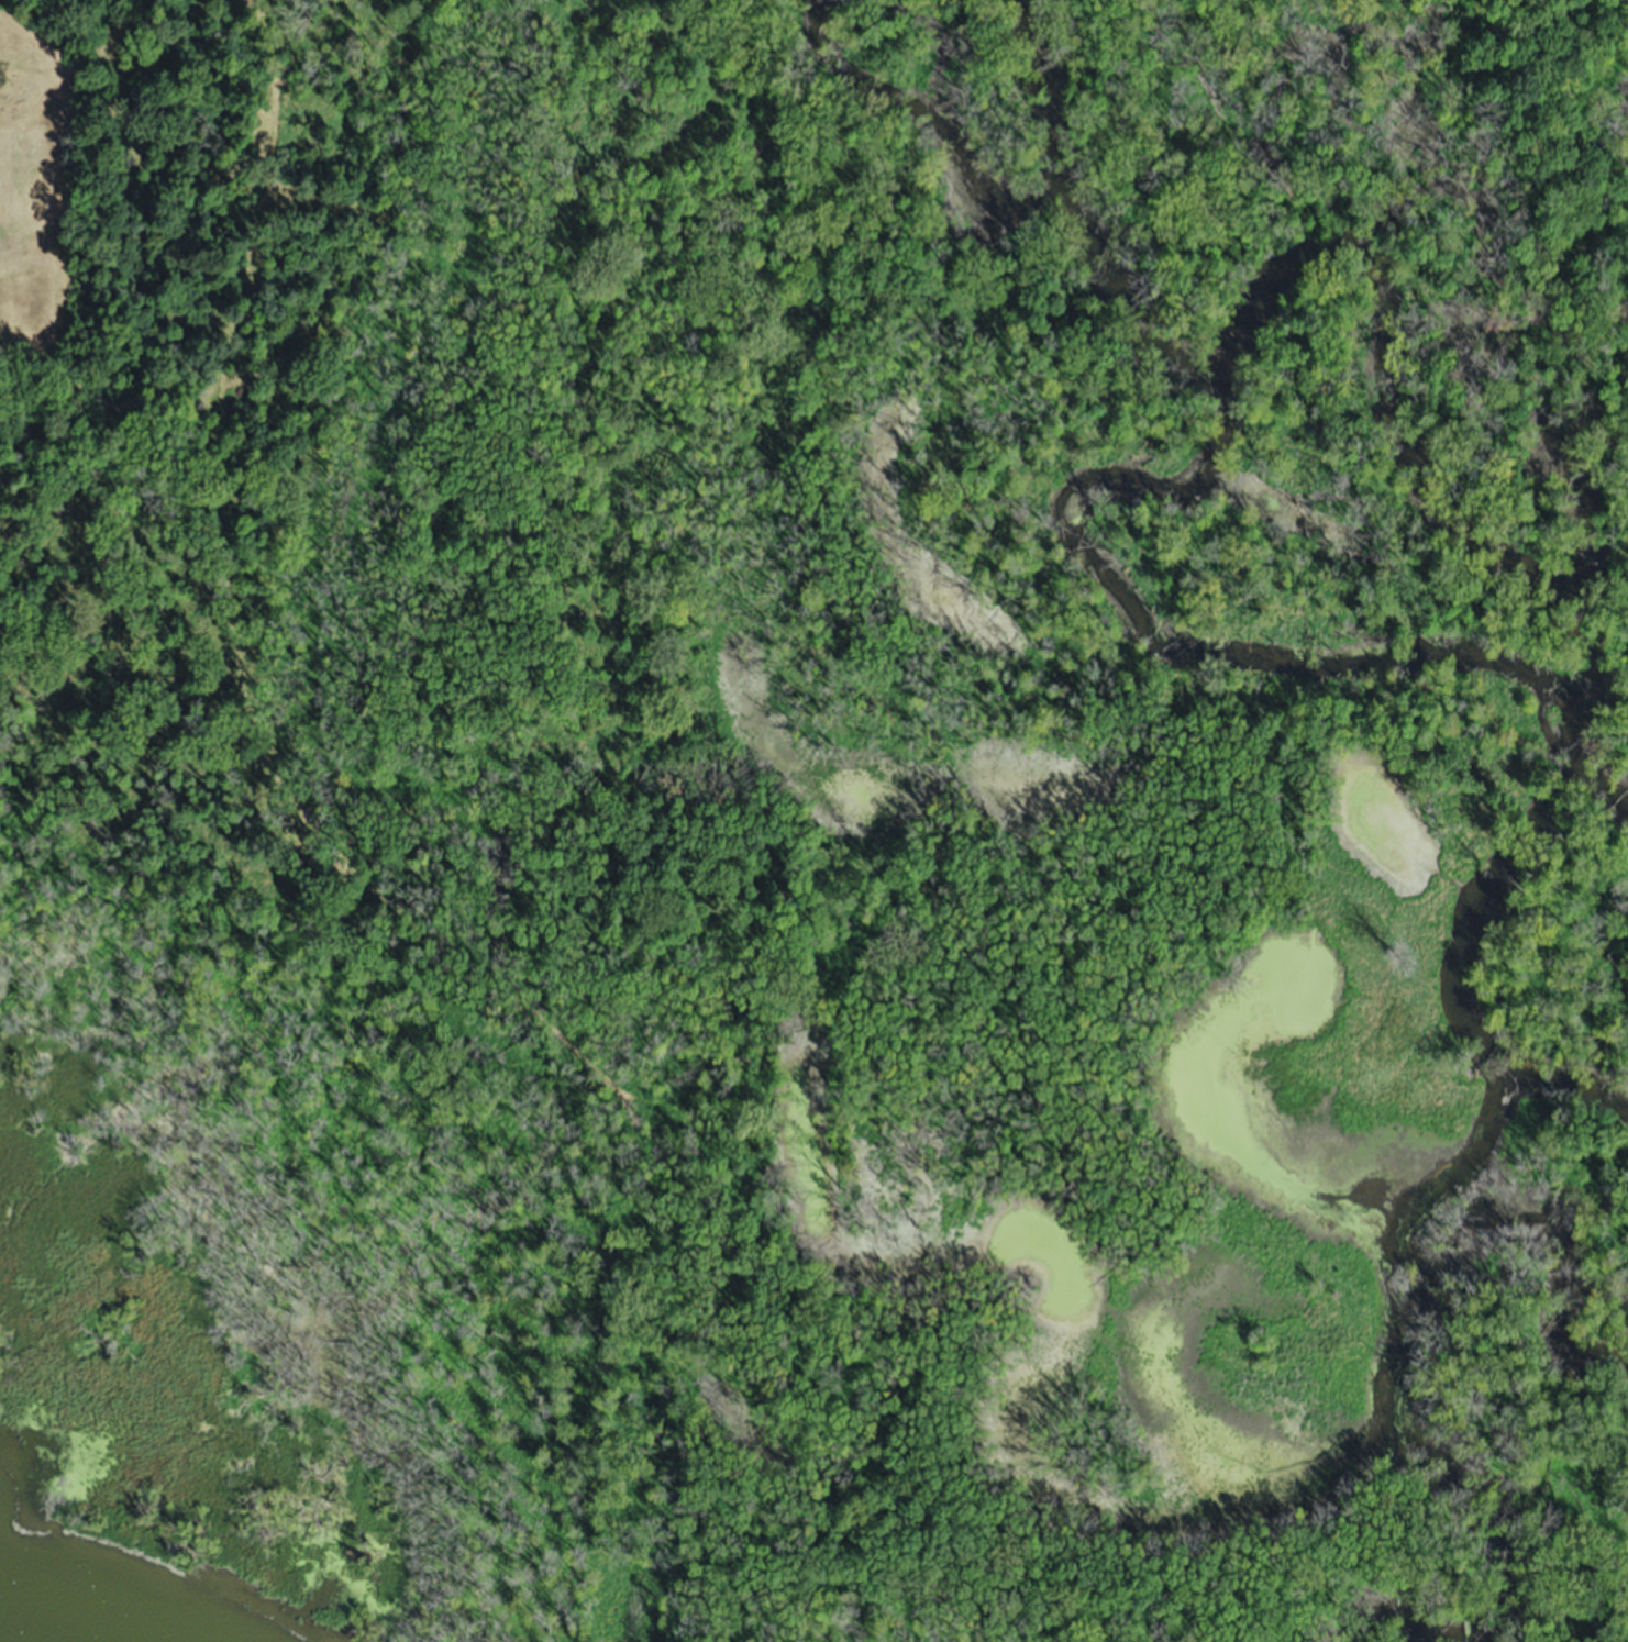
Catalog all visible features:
river: (1376, 321)
river: (1510, 942)
river: (1427, 1375)

